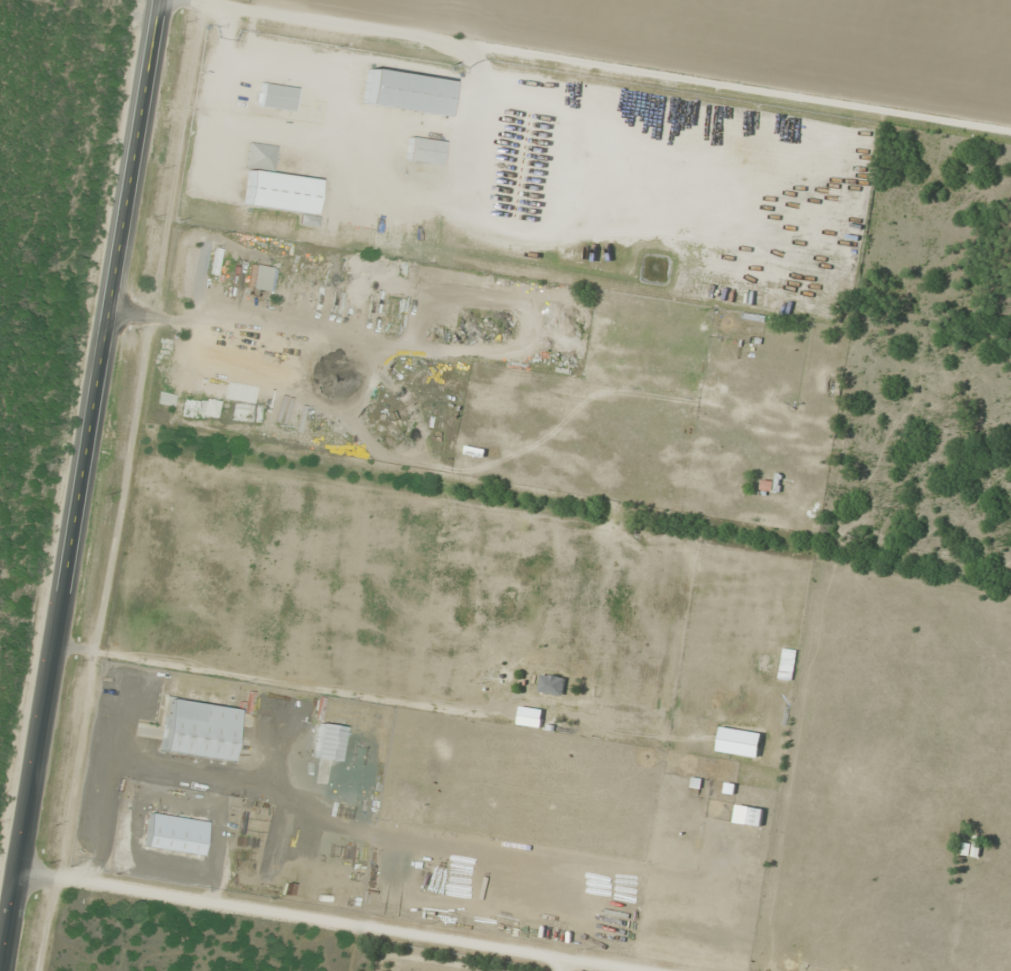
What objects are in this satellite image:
road: (592, 68)
building: (277, 97)
building: (424, 151)
building: (276, 186)
road: (84, 485)
building: (766, 486)
road: (34, 577)

